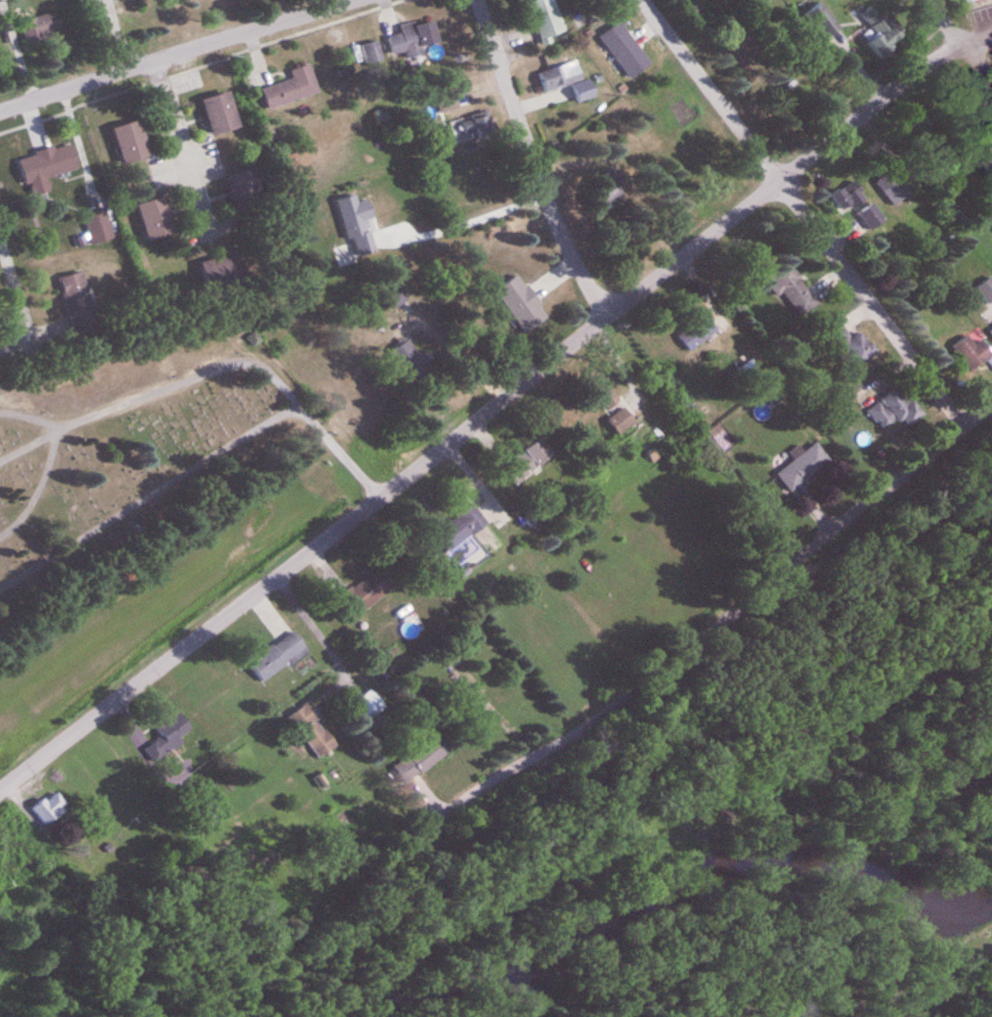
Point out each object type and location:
building: (973, 0)
building: (544, 17)
building: (823, 21)
building: (39, 28)
building: (881, 31)
building: (414, 38)
road: (960, 40)
building: (625, 50)
building: (372, 52)
road: (173, 54)
building: (567, 81)
building: (819, 86)
building: (292, 88)
building: (220, 113)
building: (477, 128)
building: (131, 142)
road: (181, 150)
road: (533, 161)
building: (46, 168)
building: (989, 170)
building: (243, 186)
building: (892, 188)
building: (605, 190)
building: (846, 198)
road: (804, 212)
building: (871, 218)
building: (156, 219)
road: (467, 219)
building: (98, 228)
building: (346, 256)
building: (222, 271)
building: (793, 290)
building: (986, 290)
road: (16, 293)
building: (396, 298)
building: (78, 304)
building: (521, 304)
building: (991, 332)
building: (697, 333)
building: (850, 346)
building: (972, 352)
building: (410, 359)
road: (152, 392)
road: (493, 408)
building: (896, 409)
building: (621, 421)
park: (138, 448)
road: (339, 451)
building: (527, 462)
building: (803, 468)
road: (149, 496)
building: (460, 528)
building: (365, 593)
road: (715, 625)
building: (278, 657)
building: (312, 731)
building: (168, 738)
building: (420, 759)
building: (50, 809)
river: (925, 962)

